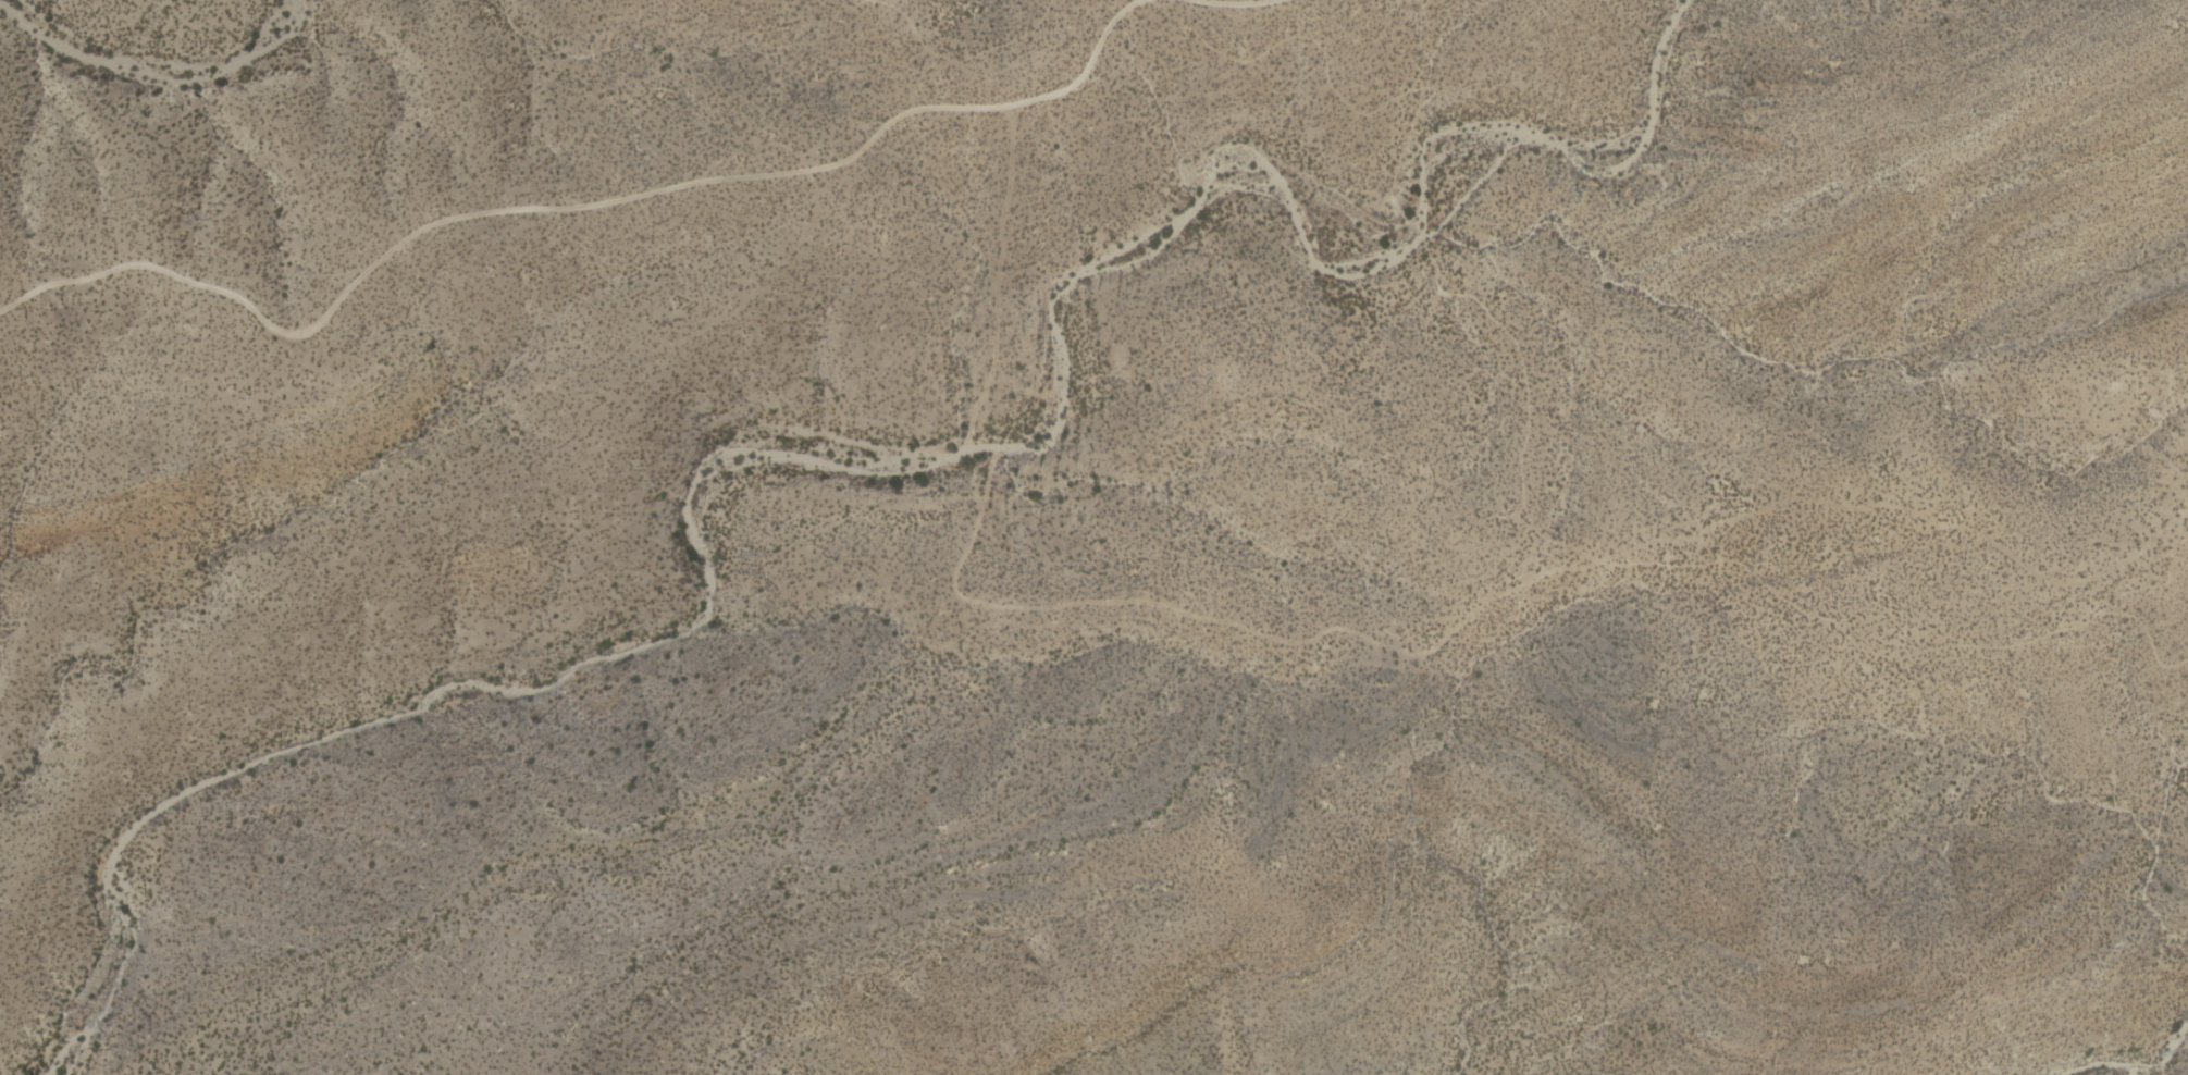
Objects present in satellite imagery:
road: (971, 46)
road: (1532, 496)

